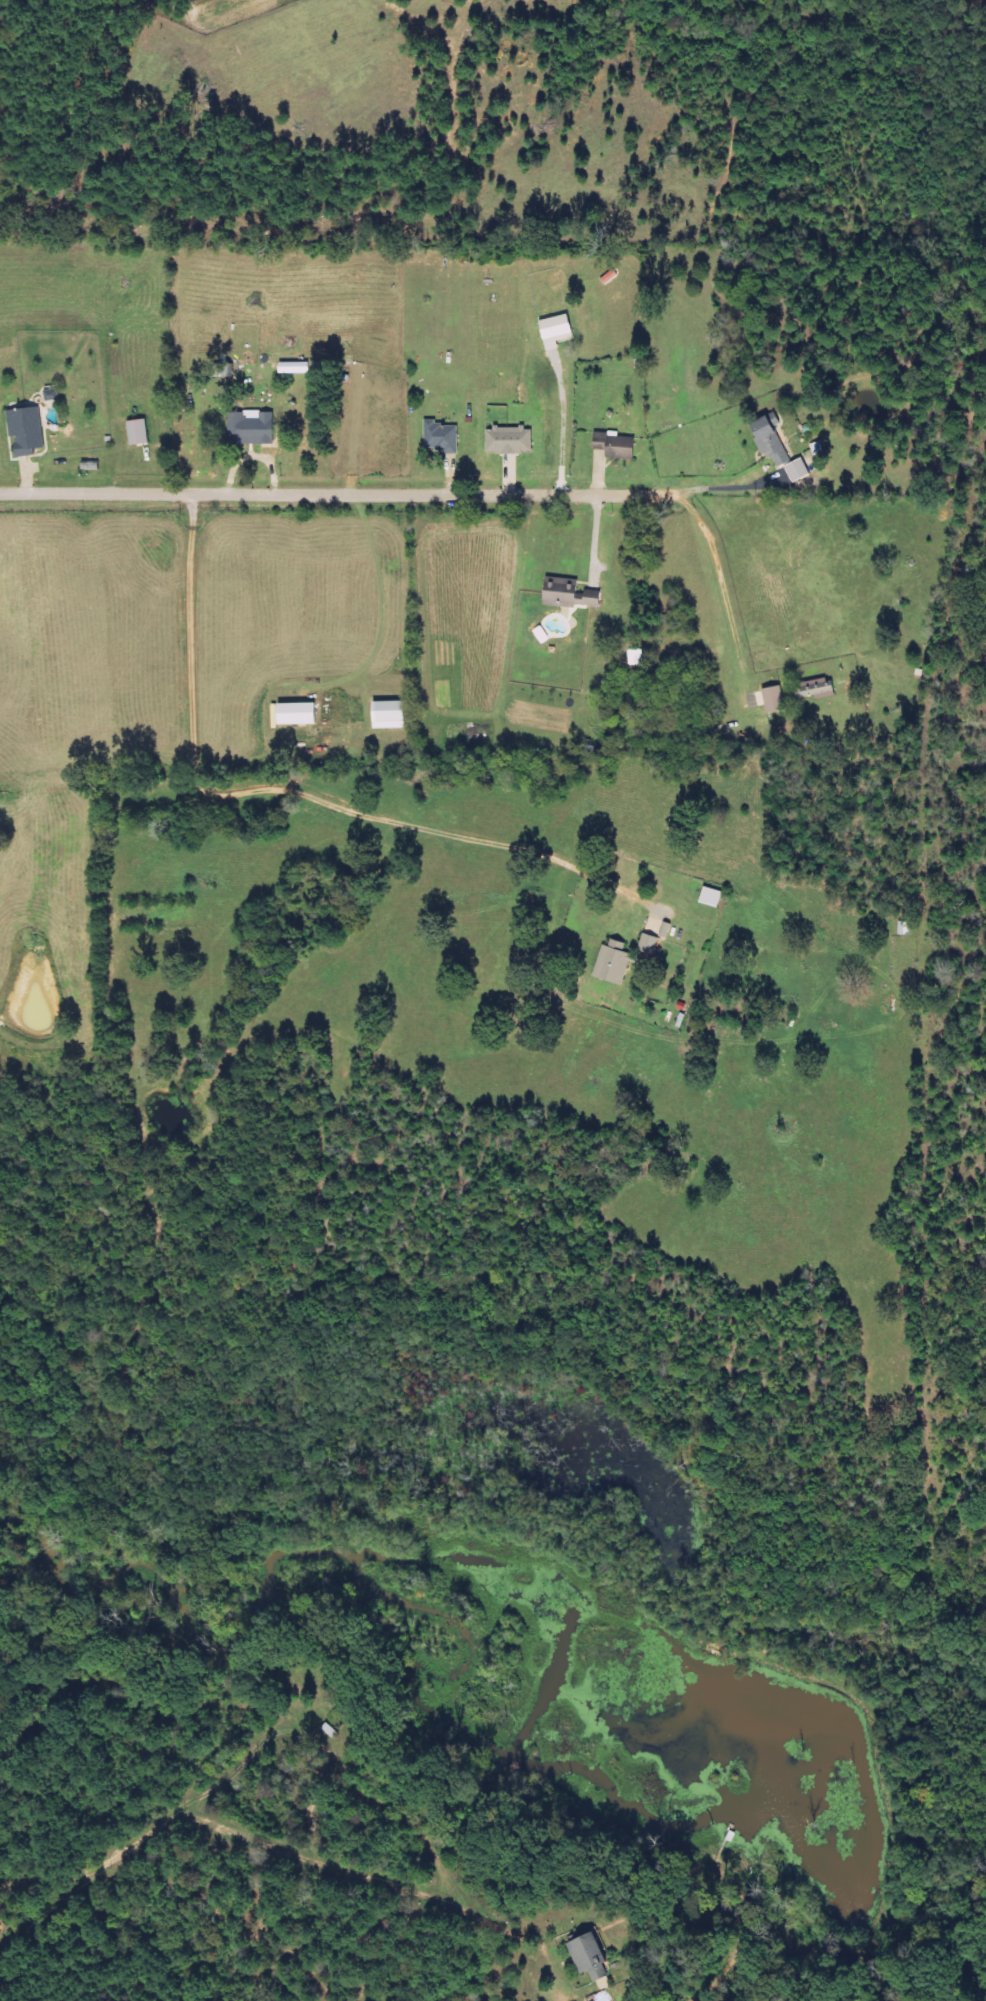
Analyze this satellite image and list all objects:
building: (556, 331)
building: (250, 429)
building: (25, 431)
building: (138, 432)
building: (440, 436)
building: (509, 440)
building: (771, 441)
building: (614, 445)
building: (797, 470)
road: (728, 489)
road: (337, 494)
road: (723, 583)
building: (567, 595)
building: (814, 687)
building: (773, 699)
building: (296, 713)
building: (388, 714)
road: (299, 794)
building: (711, 896)
building: (648, 944)
building: (612, 962)
building: (589, 1957)

